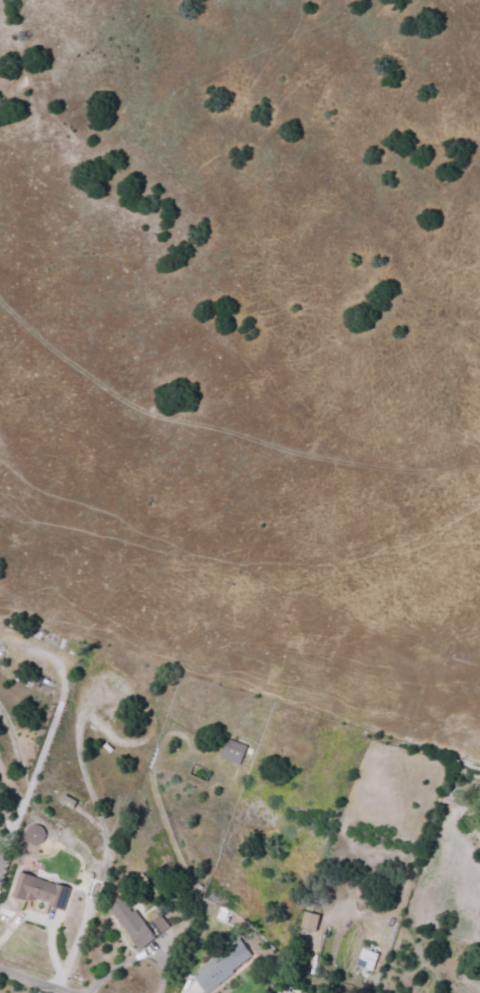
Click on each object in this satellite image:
road: (266, 465)
building: (233, 752)
road: (162, 789)
building: (35, 835)
building: (40, 890)
building: (311, 921)
building: (138, 924)
building: (367, 959)
building: (223, 965)
road: (33, 982)

